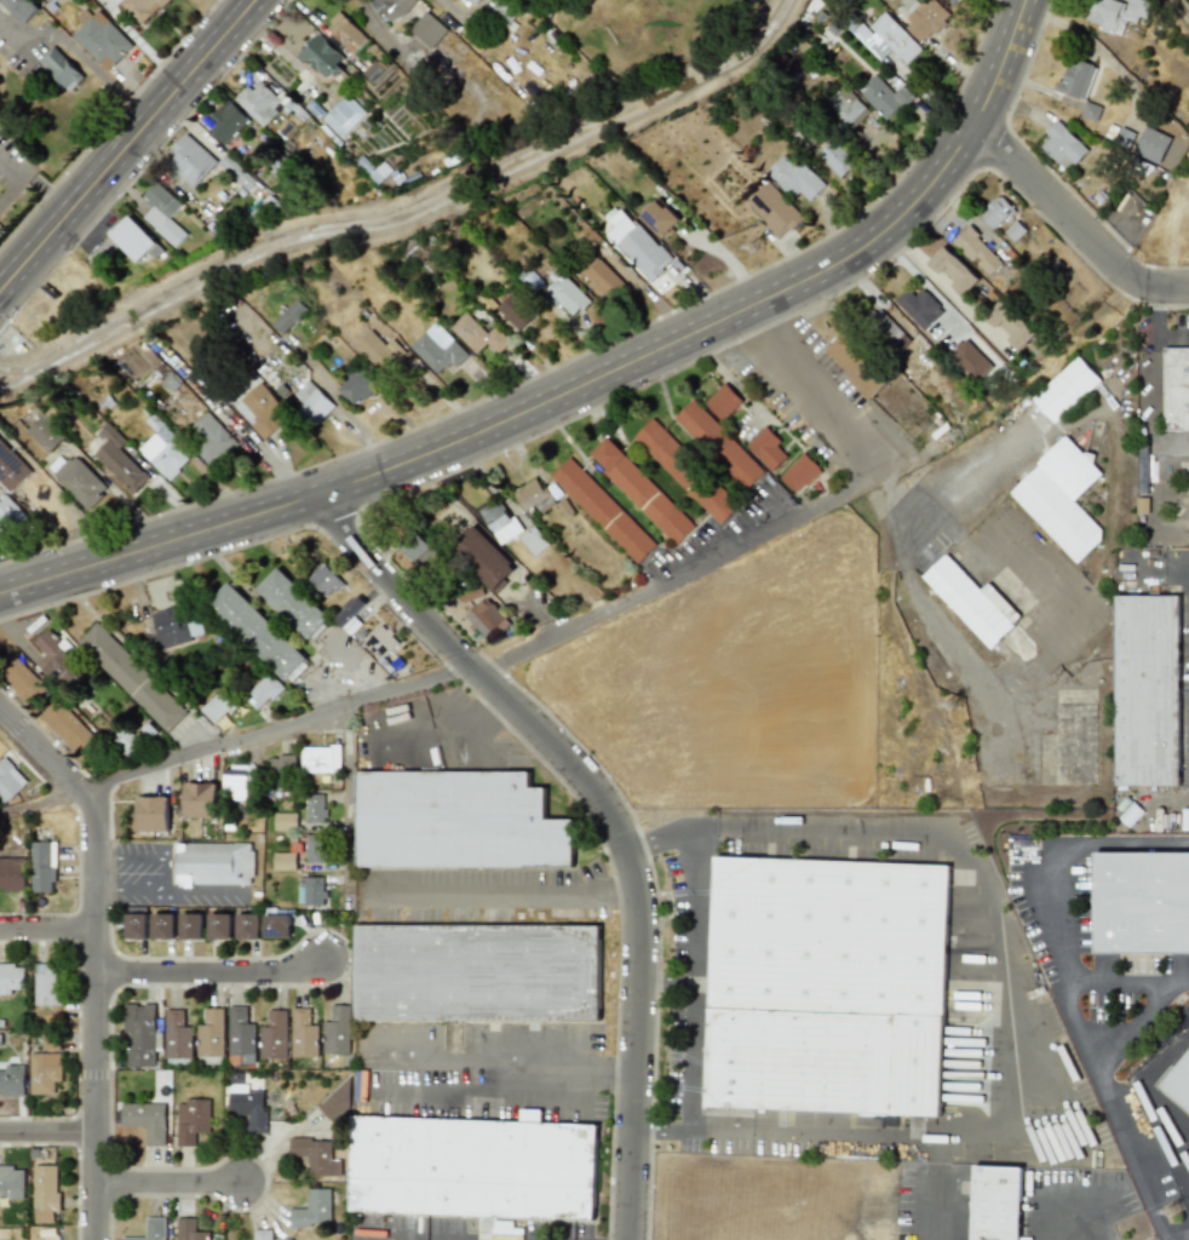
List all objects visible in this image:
building: (473, 1)
building: (953, 1)
road: (448, 4)
building: (21, 8)
building: (143, 8)
building: (394, 8)
building: (504, 8)
building: (1118, 13)
building: (926, 19)
road: (379, 28)
building: (429, 29)
road: (53, 31)
building: (345, 33)
building: (100, 39)
building: (886, 39)
building: (321, 57)
building: (61, 69)
building: (1076, 79)
building: (883, 97)
road: (127, 101)
building: (258, 103)
building: (845, 107)
building: (1091, 111)
building: (343, 116)
building: (224, 121)
building: (1125, 137)
road: (125, 143)
building: (1063, 145)
building: (1151, 145)
building: (189, 159)
building: (837, 160)
road: (143, 162)
building: (375, 171)
building: (236, 172)
building: (794, 178)
road: (33, 182)
building: (774, 209)
building: (995, 212)
building: (162, 213)
building: (660, 218)
road: (1070, 219)
building: (134, 240)
power tower: (758, 248)
building: (642, 251)
building: (976, 251)
building: (953, 271)
building: (604, 279)
building: (533, 282)
road: (942, 289)
building: (567, 294)
building: (919, 308)
building: (515, 311)
building: (288, 316)
building: (1010, 325)
building: (888, 331)
building: (478, 334)
road: (1172, 338)
building: (438, 349)
building: (379, 351)
building: (970, 360)
road: (1155, 361)
road: (558, 363)
building: (856, 367)
road: (575, 384)
building: (356, 385)
building: (1068, 389)
building: (1177, 389)
road: (806, 392)
road: (440, 394)
building: (724, 401)
building: (311, 402)
road: (344, 404)
building: (260, 412)
building: (46, 434)
building: (209, 438)
building: (720, 444)
building: (768, 447)
building: (162, 450)
building: (120, 460)
building: (1070, 467)
building: (11, 469)
building: (687, 470)
building: (802, 472)
building: (80, 481)
road: (743, 490)
building: (643, 492)
road: (40, 494)
building: (529, 494)
road: (823, 504)
building: (604, 510)
building: (1058, 513)
building: (11, 515)
building: (500, 522)
building: (533, 541)
building: (418, 549)
building: (483, 558)
building: (324, 580)
building: (293, 602)
building: (973, 602)
building: (350, 615)
building: (486, 618)
building: (168, 630)
building: (257, 631)
building: (380, 642)
building: (56, 659)
building: (131, 677)
building: (19, 678)
building: (1149, 690)
building: (263, 691)
parking lot: (1187, 696)
building: (218, 706)
power tower: (958, 706)
road: (469, 714)
building: (65, 727)
road: (236, 740)
building: (126, 742)
building: (321, 758)
building: (282, 770)
building: (8, 781)
building: (236, 782)
building: (200, 799)
road: (346, 804)
building: (314, 809)
road: (609, 811)
building: (151, 814)
building: (285, 821)
building: (460, 822)
road: (1046, 844)
building: (314, 849)
road: (104, 860)
road: (138, 860)
building: (283, 861)
building: (214, 863)
building: (42, 867)
building: (11, 873)
road: (163, 876)
building: (310, 890)
road: (104, 891)
road: (138, 891)
road: (202, 891)
road: (77, 894)
road: (505, 900)
building: (1141, 902)
building: (136, 925)
building: (162, 925)
building: (191, 925)
building: (276, 925)
building: (219, 926)
building: (248, 926)
road: (47, 929)
road: (96, 955)
building: (481, 974)
road: (211, 976)
building: (11, 978)
road: (695, 980)
building: (46, 984)
road: (667, 984)
road: (1124, 984)
building: (827, 986)
road: (114, 992)
road: (1010, 1009)
road: (1130, 1024)
building: (338, 1031)
building: (241, 1032)
building: (211, 1033)
building: (304, 1033)
building: (140, 1035)
building: (177, 1035)
building: (274, 1035)
building: (51, 1044)
road: (1087, 1047)
building: (44, 1072)
building: (12, 1080)
road: (506, 1080)
building: (1179, 1083)
road: (613, 1087)
road: (1147, 1097)
building: (337, 1102)
building: (248, 1107)
building: (145, 1120)
building: (191, 1120)
road: (47, 1131)
building: (311, 1154)
road: (76, 1155)
building: (477, 1169)
building: (12, 1181)
road: (168, 1184)
building: (45, 1193)
building: (996, 1202)
road: (937, 1205)
building: (312, 1210)
power tower: (1176, 1212)
road: (1079, 1217)
building: (150, 1230)
building: (188, 1230)
building: (46, 1233)
building: (262, 1234)

